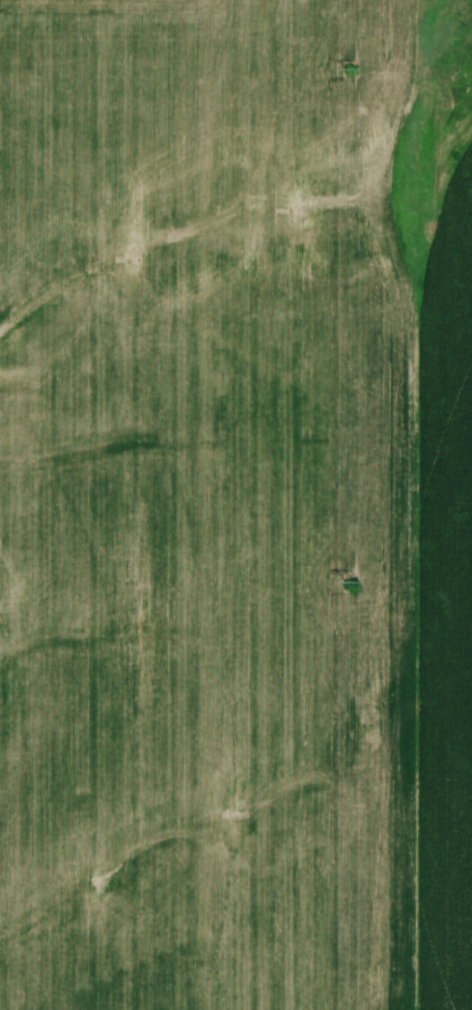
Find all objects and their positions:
power tower: (350, 68)
power tower: (348, 581)

